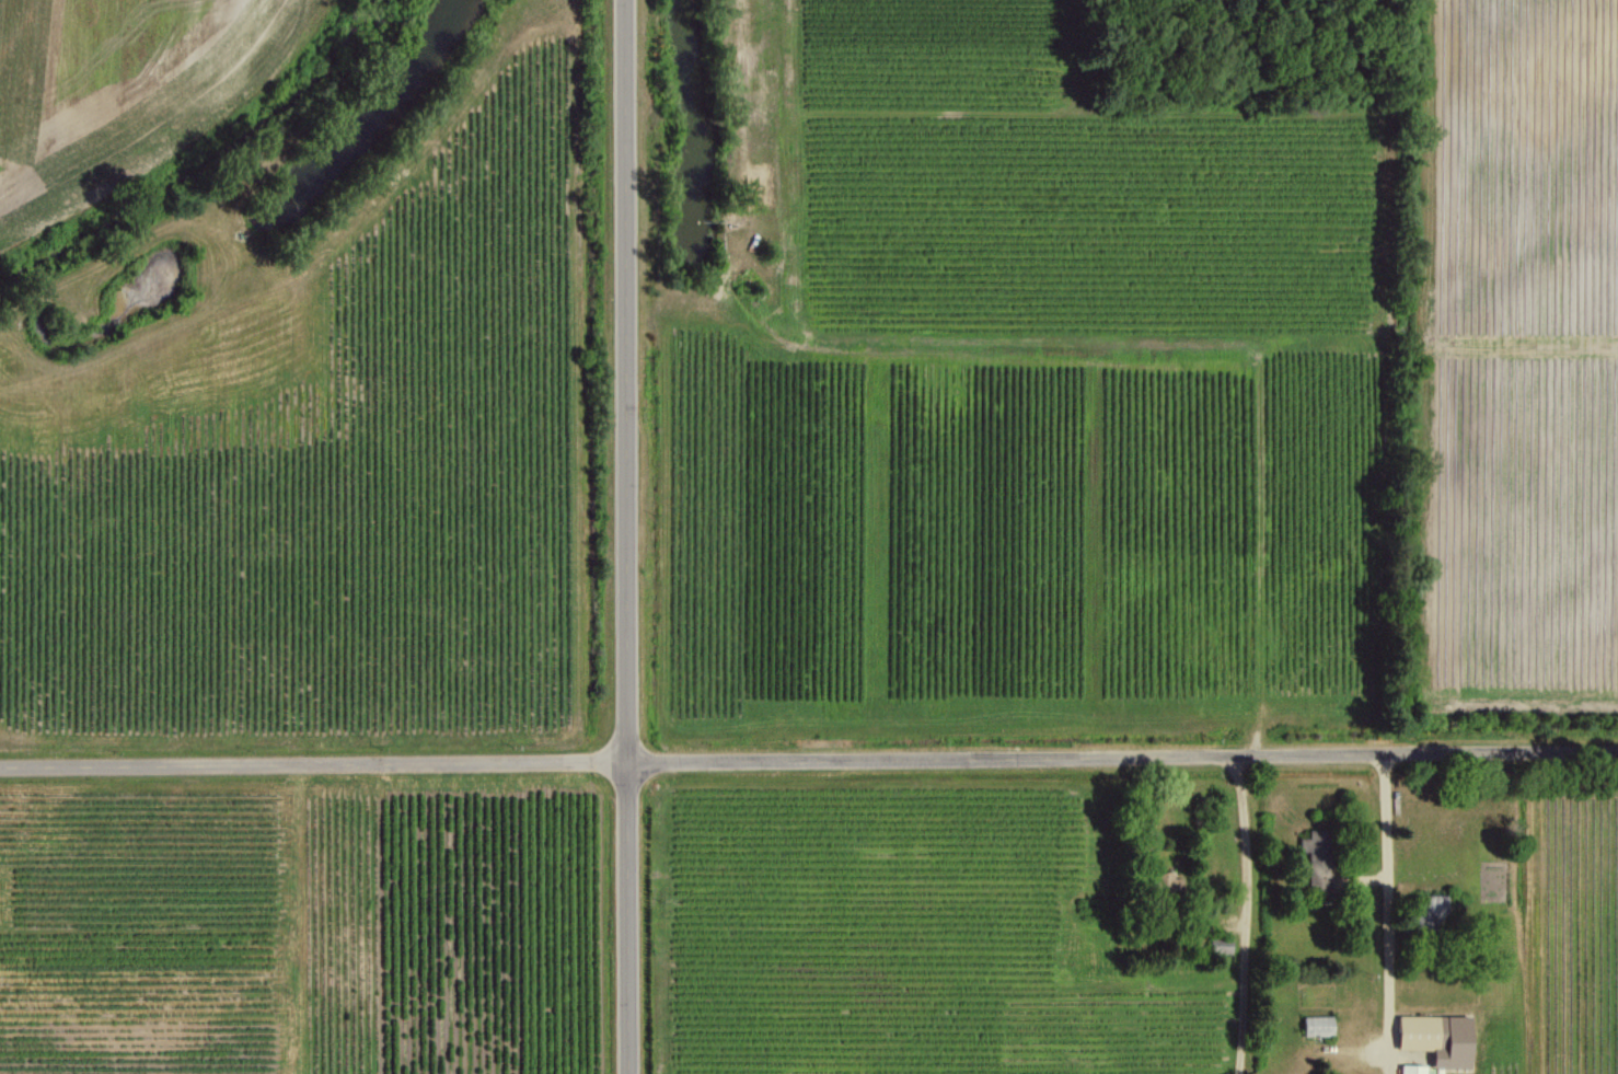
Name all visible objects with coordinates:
road: (626, 536)
road: (808, 759)
building: (1317, 858)
building: (1167, 882)
road: (1390, 908)
building: (1429, 911)
road: (1250, 914)
building: (1318, 1025)
building: (1437, 1038)
building: (1412, 1069)

